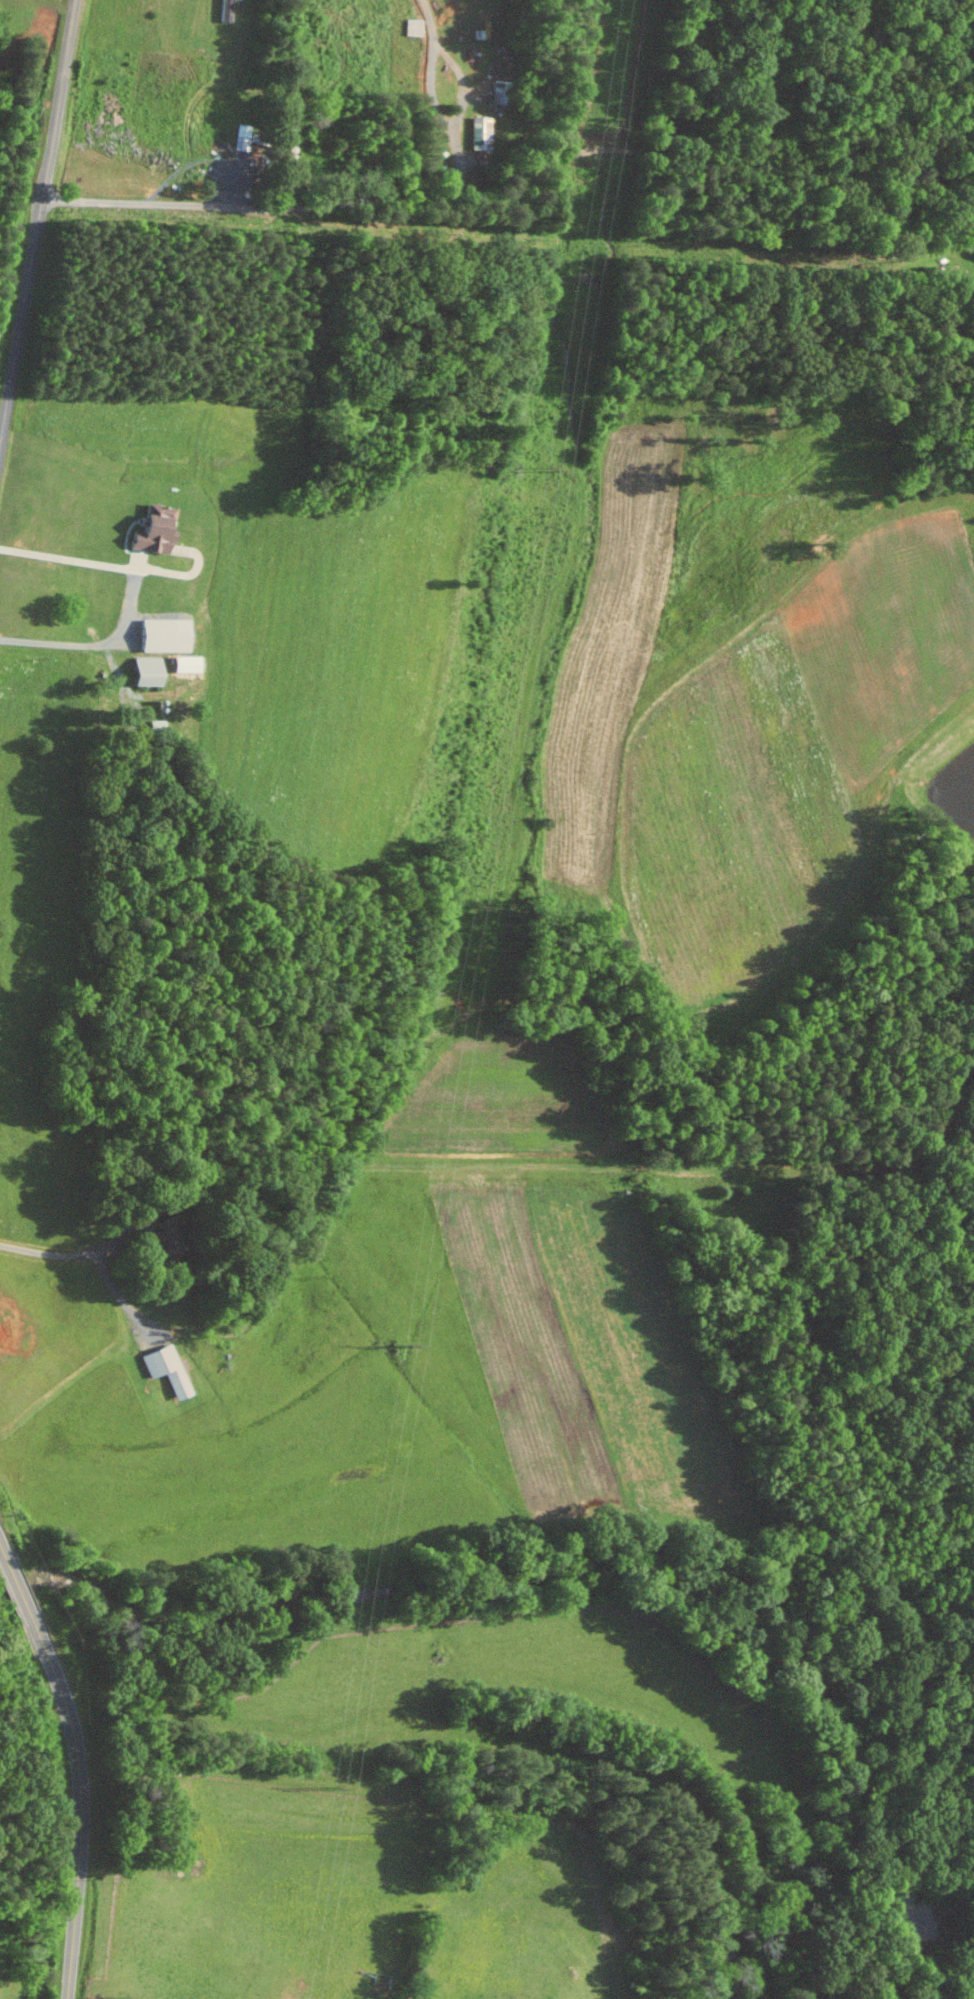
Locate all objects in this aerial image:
power tower: (600, 126)
road: (510, 182)
road: (37, 221)
power tower: (545, 470)
building: (149, 529)
road: (130, 599)
building: (161, 635)
building: (144, 671)
power tower: (475, 909)
road: (91, 1252)
power tower: (403, 1347)
building: (166, 1369)
road: (3, 1551)
road: (17, 1586)
power tower: (332, 1789)
road: (82, 1802)

